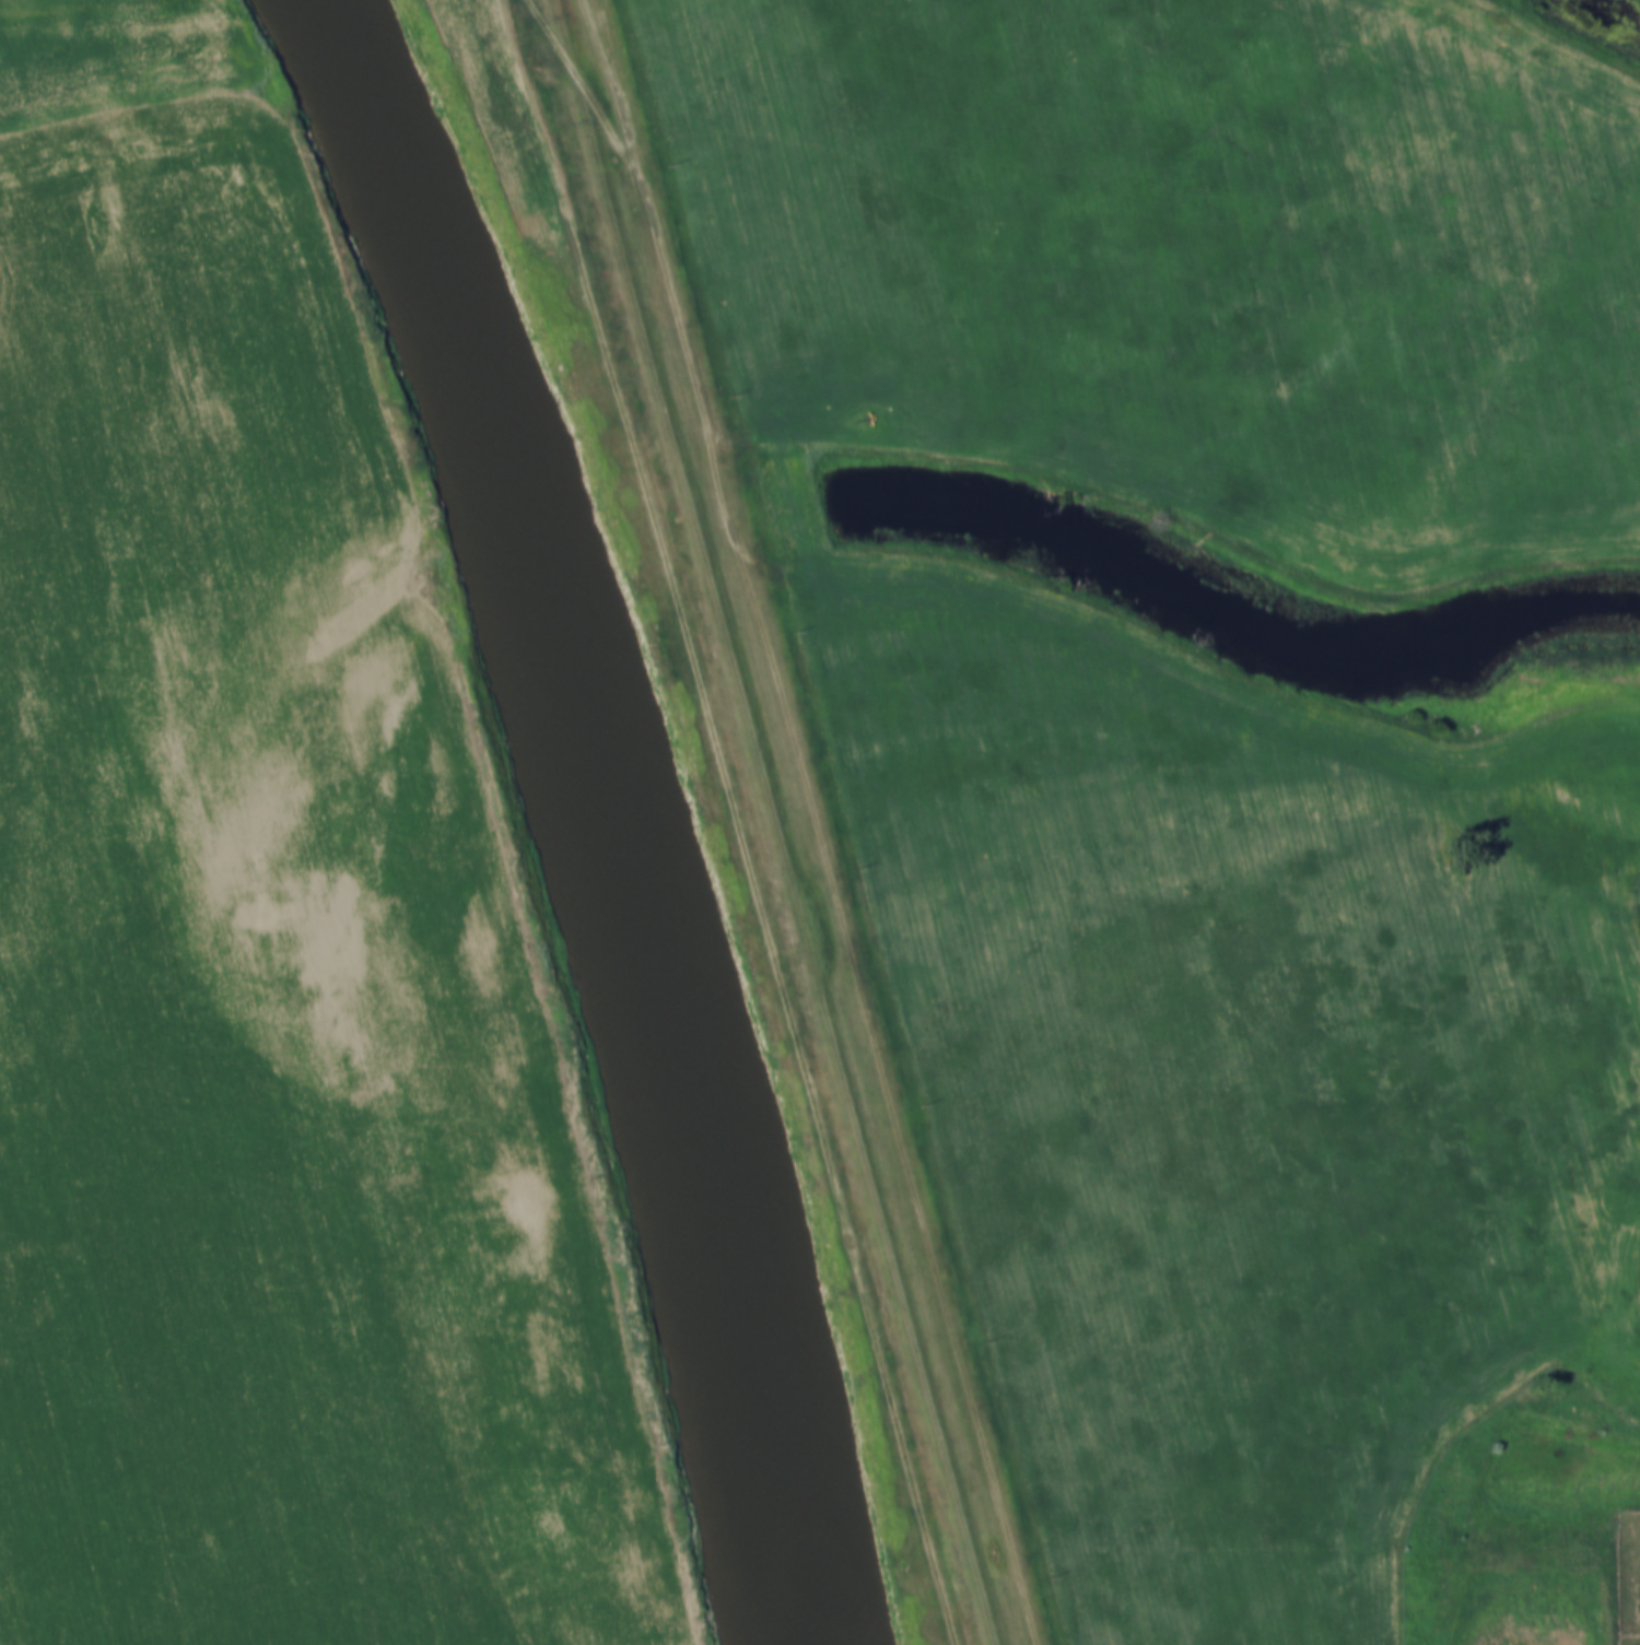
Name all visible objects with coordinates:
road: (550, 31)
road: (590, 93)
road: (678, 304)
road: (448, 724)
river: (612, 807)

